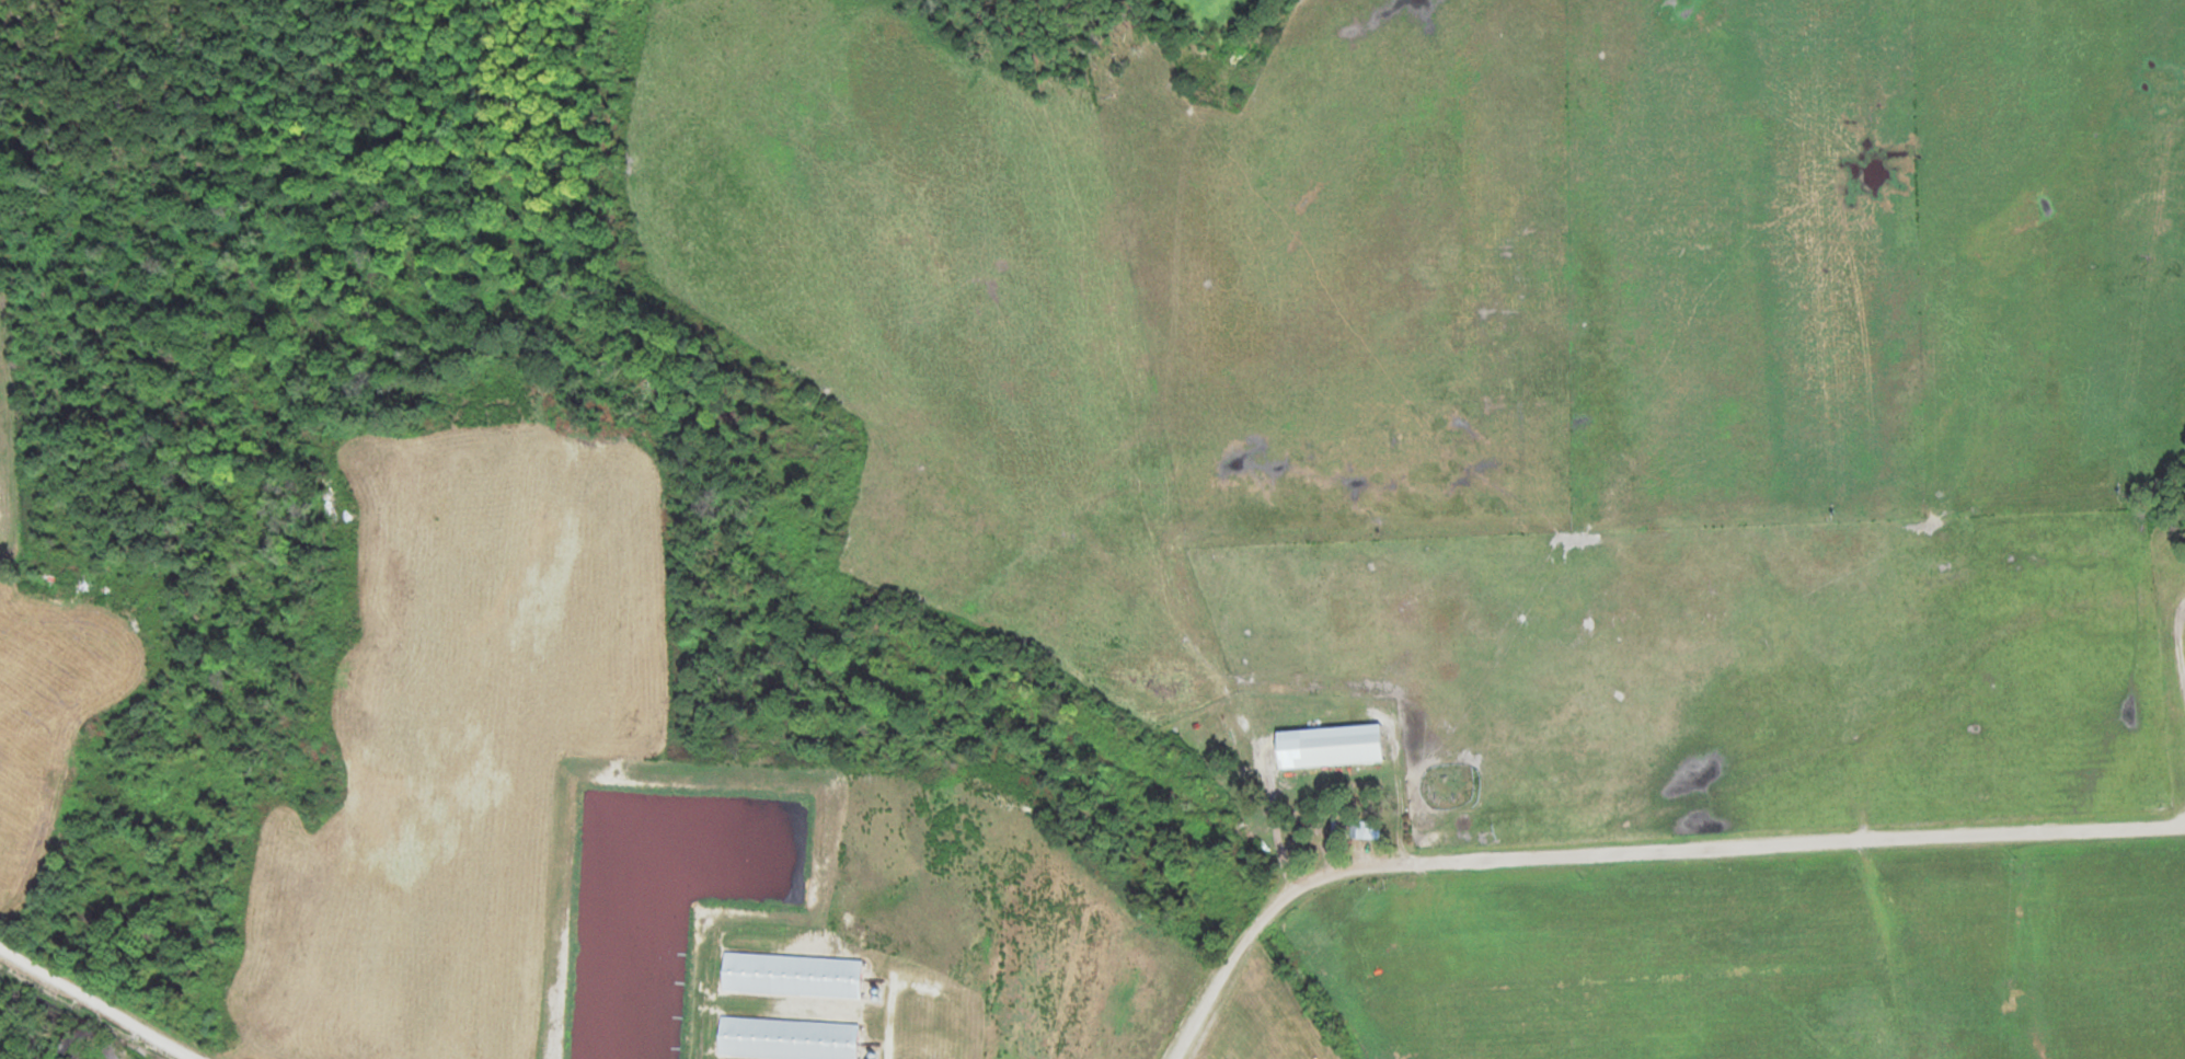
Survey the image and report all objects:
building: (1327, 746)
building: (1337, 821)
building: (1364, 828)
road: (1628, 834)
building: (790, 975)
road: (101, 1003)
building: (785, 1038)

